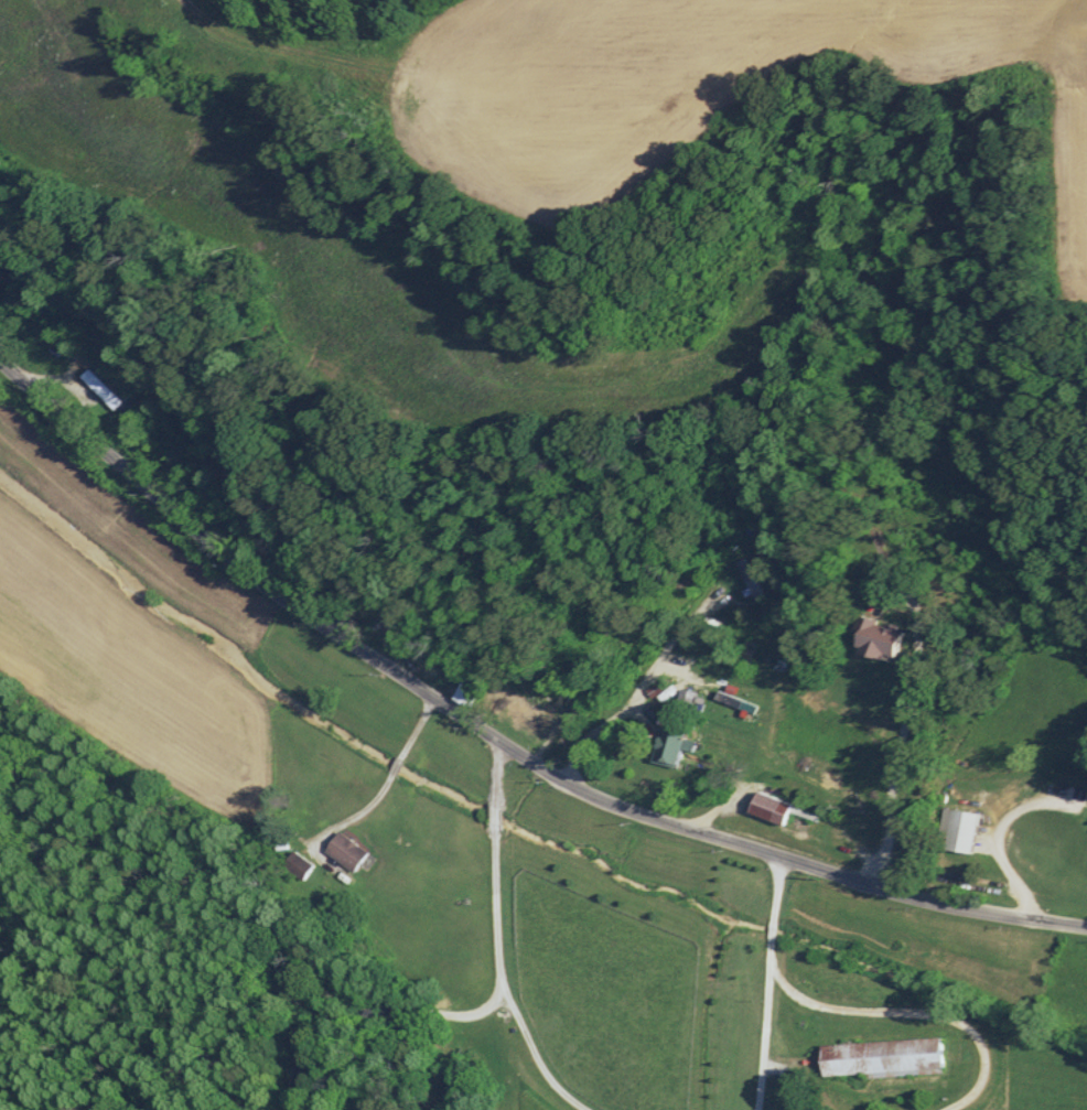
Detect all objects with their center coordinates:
building: (870, 639)
building: (469, 691)
building: (685, 699)
road: (495, 737)
building: (765, 809)
building: (957, 831)
building: (343, 850)
building: (298, 865)
road: (861, 1010)
road: (763, 1035)
building: (878, 1056)

